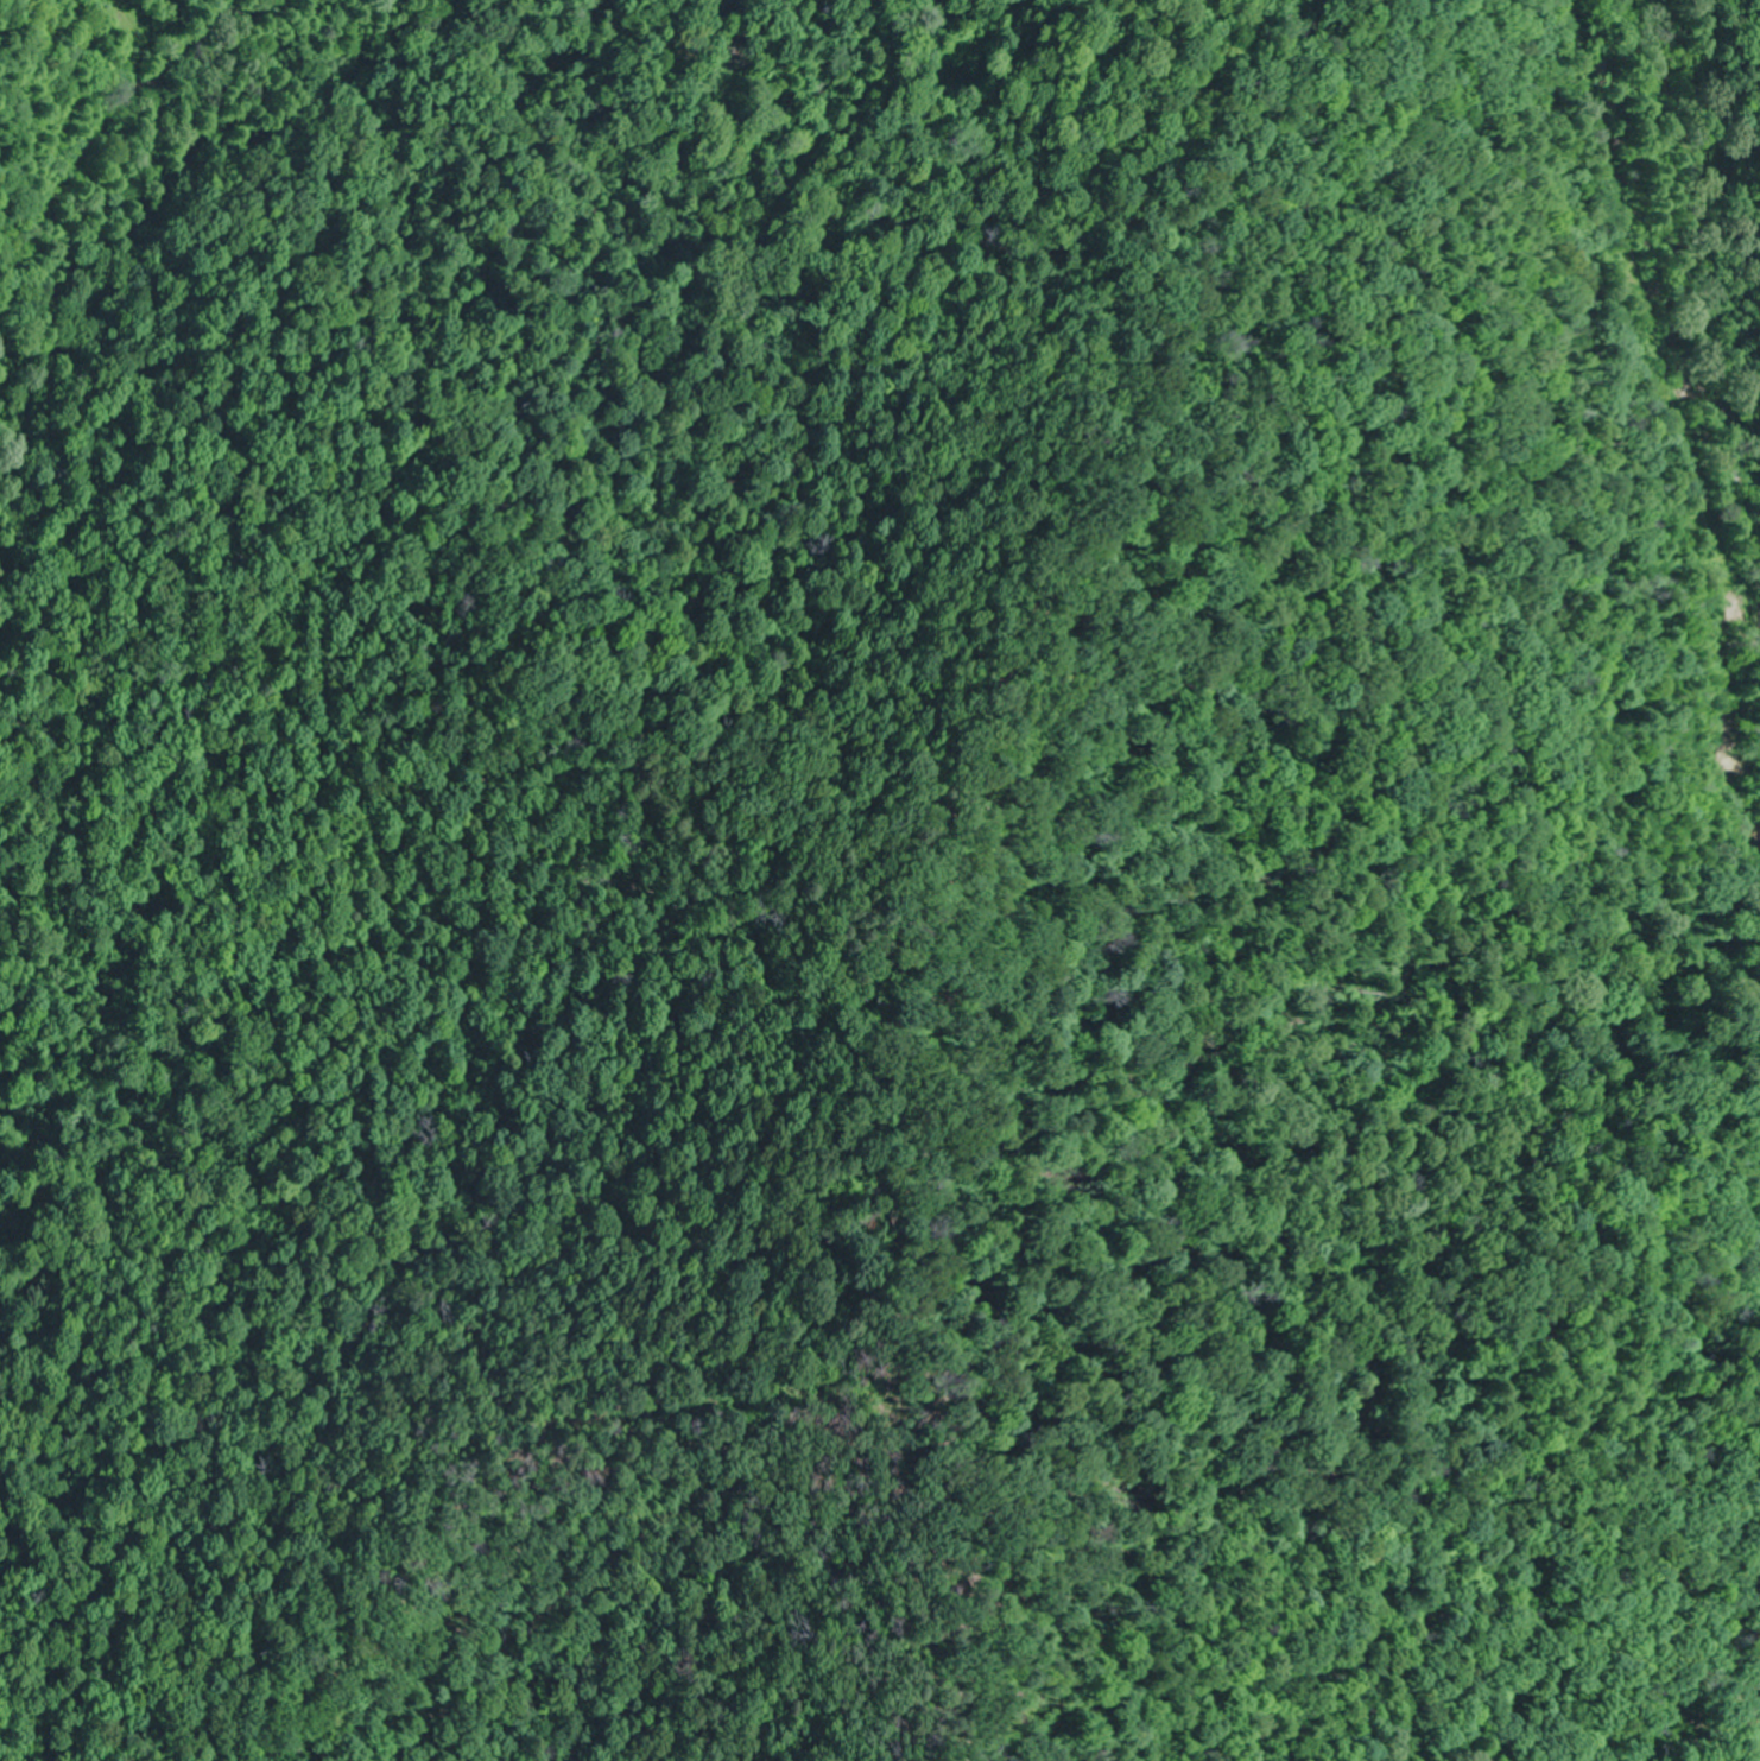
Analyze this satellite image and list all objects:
road: (115, 125)
road: (1657, 305)

